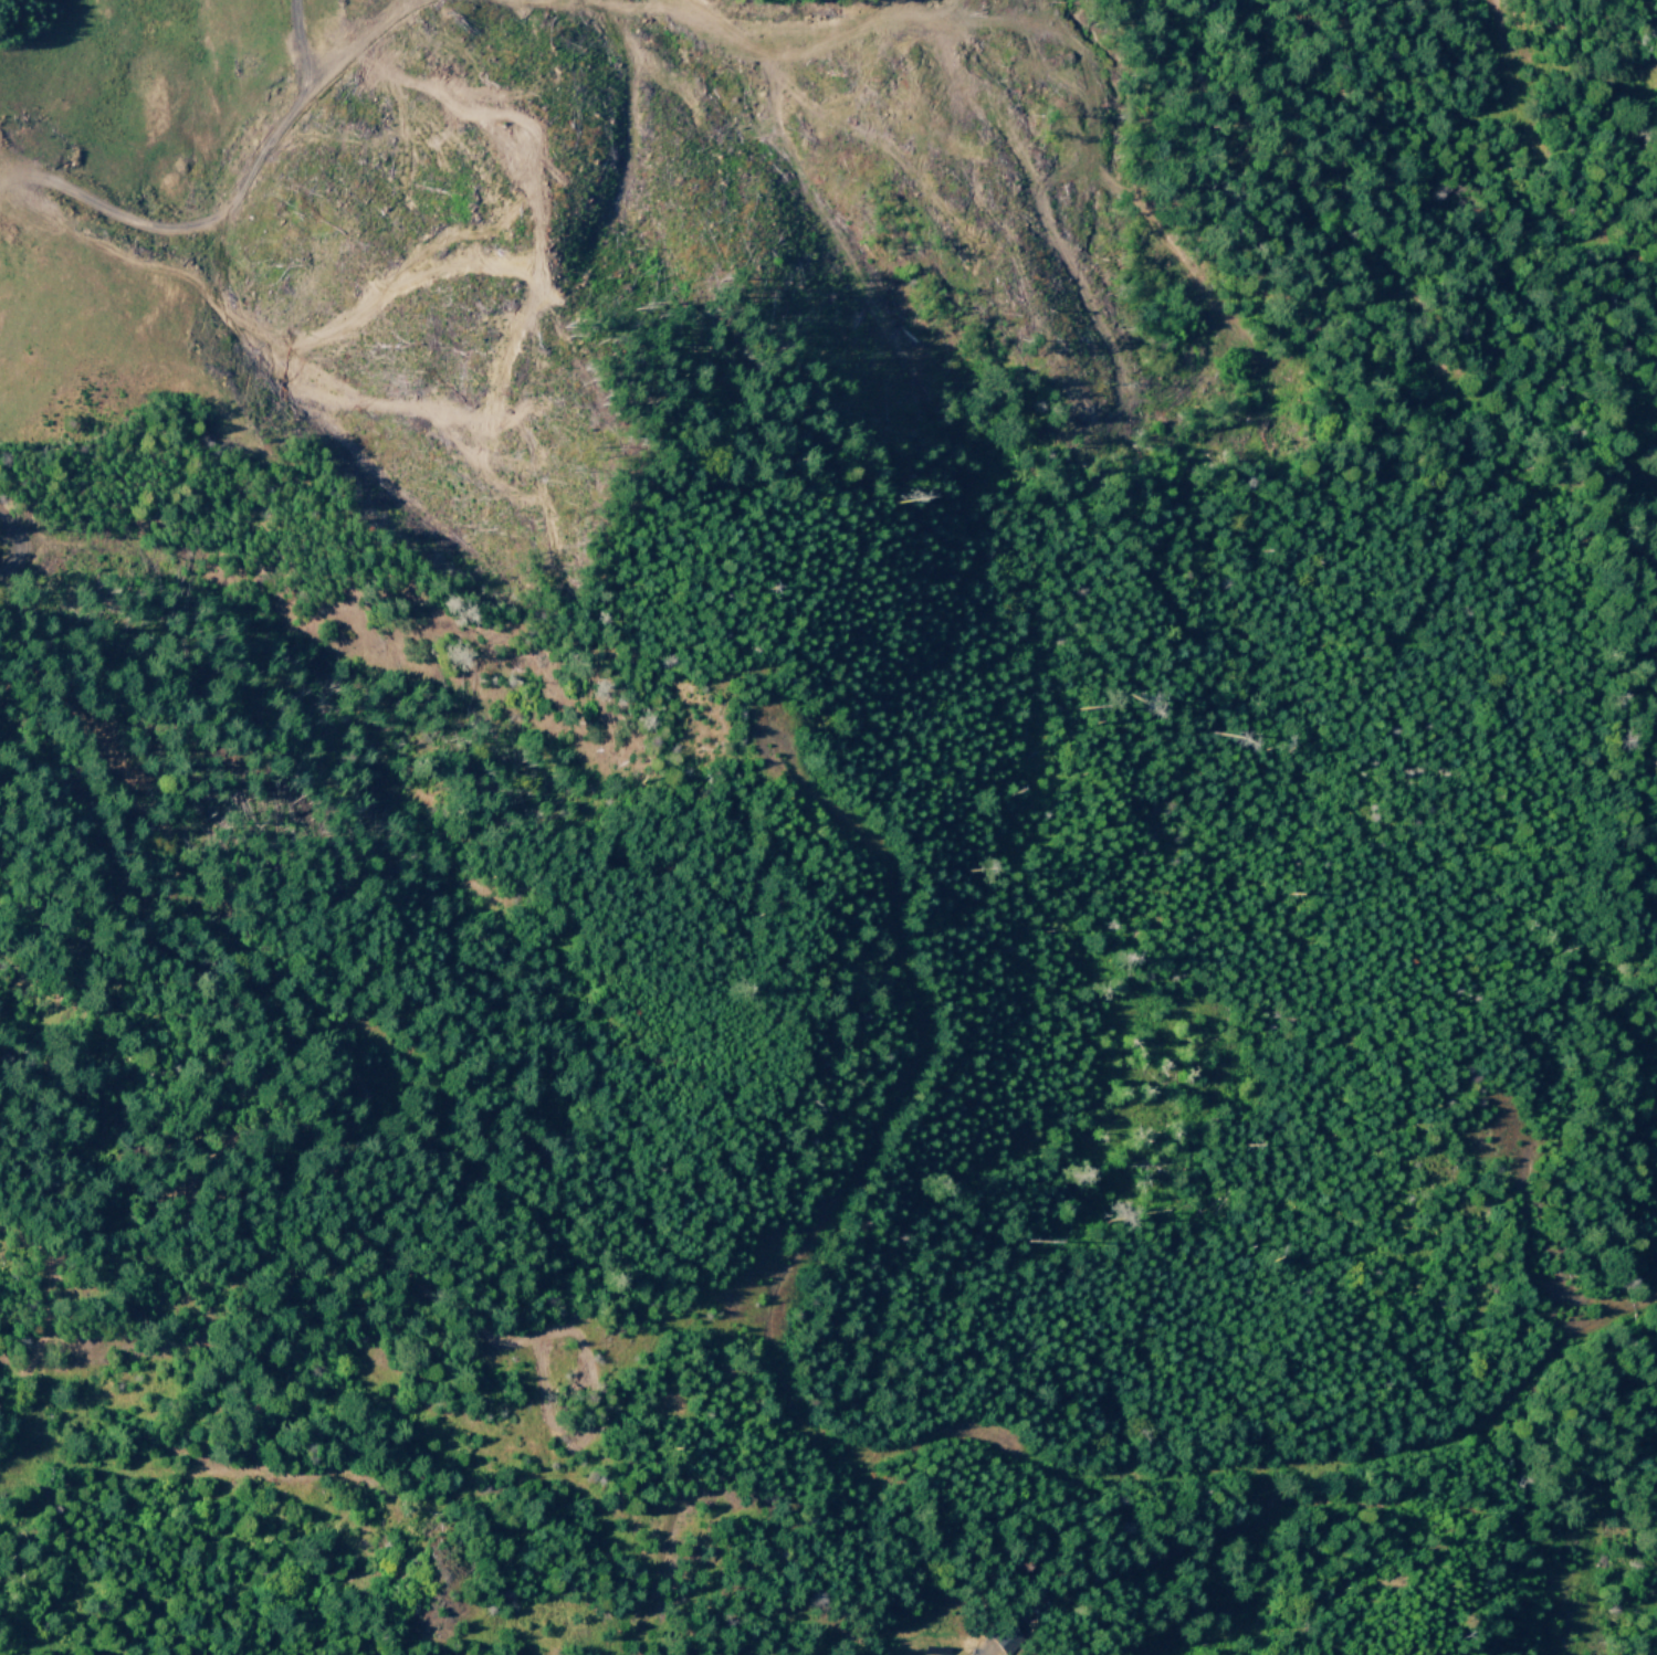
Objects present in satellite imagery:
road: (864, 1453)

